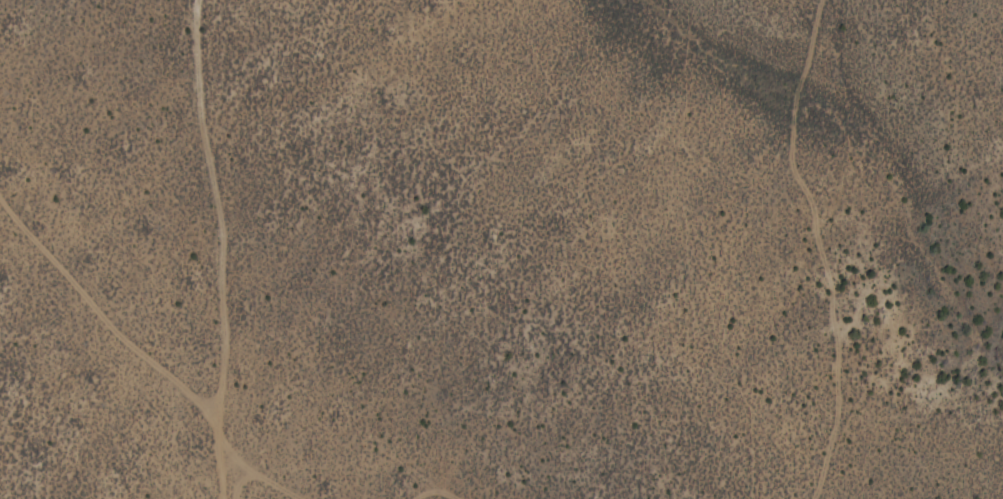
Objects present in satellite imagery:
road: (248, 219)
road: (146, 333)

